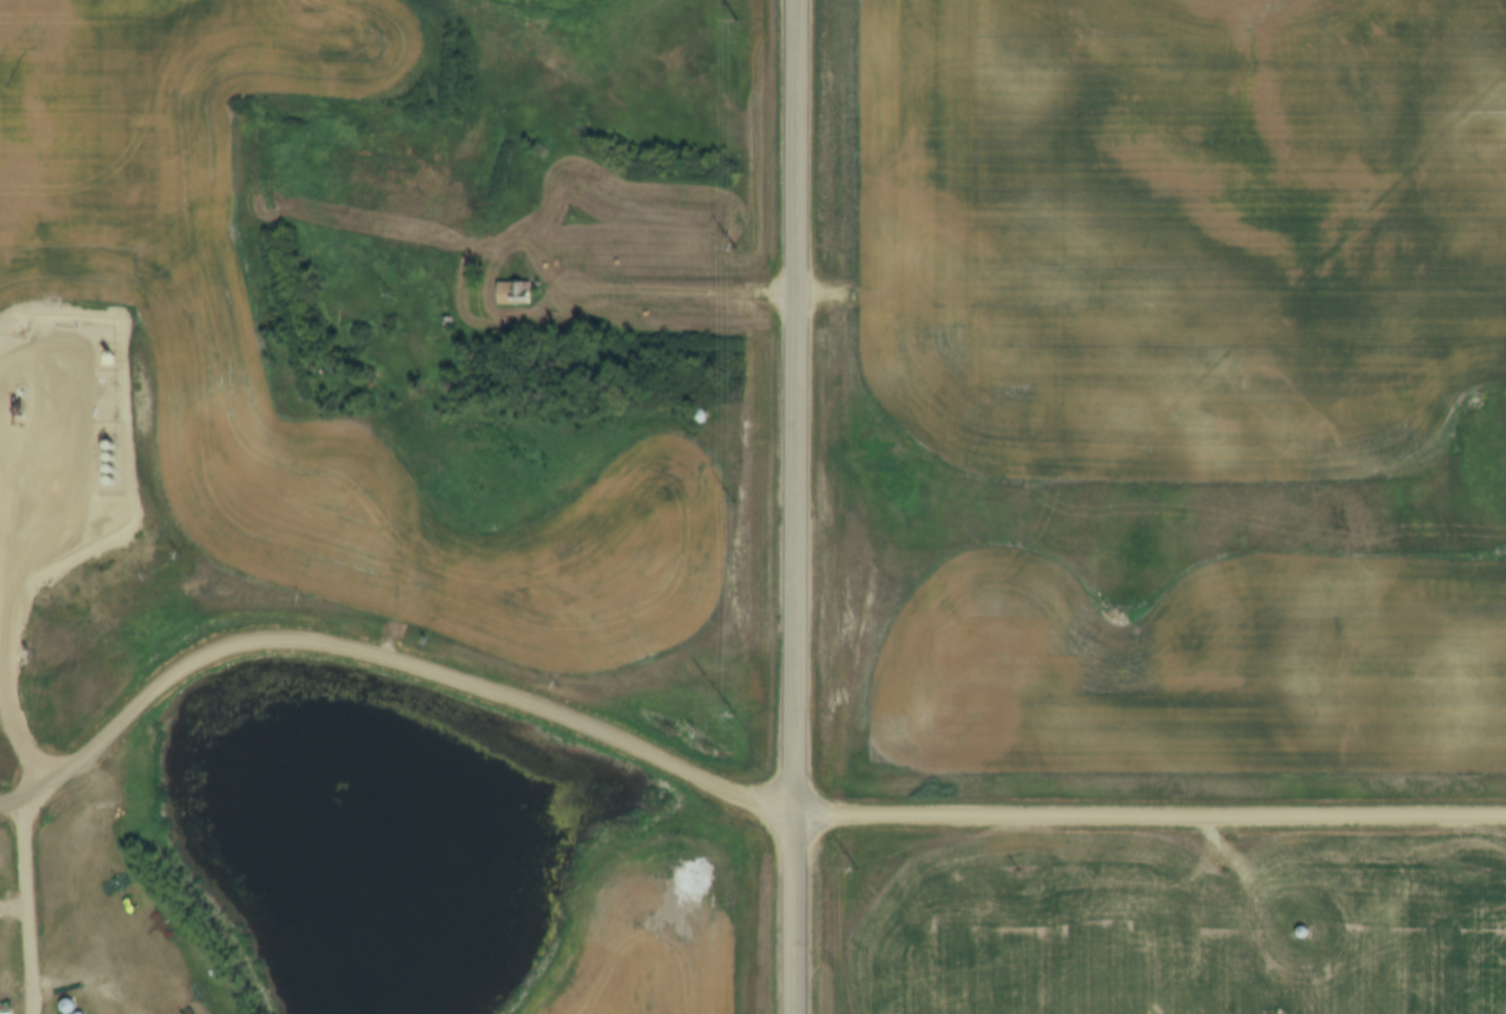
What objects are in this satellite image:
road: (669, 294)
building: (696, 413)
road: (794, 506)
road: (713, 783)
road: (26, 905)
road: (91, 963)
building: (3, 1005)

